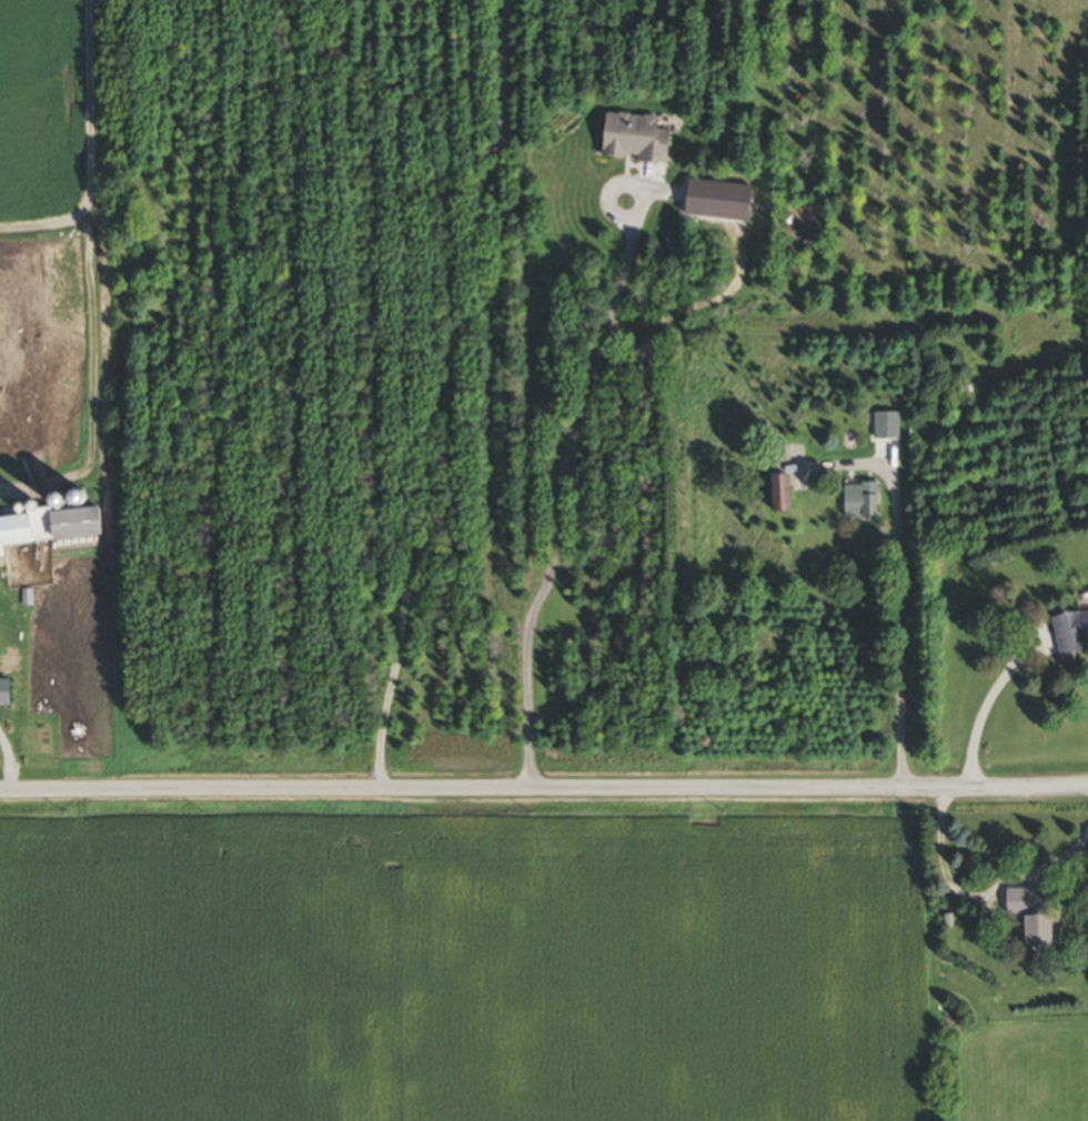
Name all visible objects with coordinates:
building: (628, 141)
road: (442, 393)
building: (884, 427)
road: (558, 495)
building: (770, 496)
building: (855, 504)
building: (56, 527)
building: (10, 534)
road: (890, 582)
building: (1068, 632)
building: (1, 695)
road: (978, 704)
road: (544, 788)
road: (981, 900)
building: (1029, 903)
building: (1028, 936)

